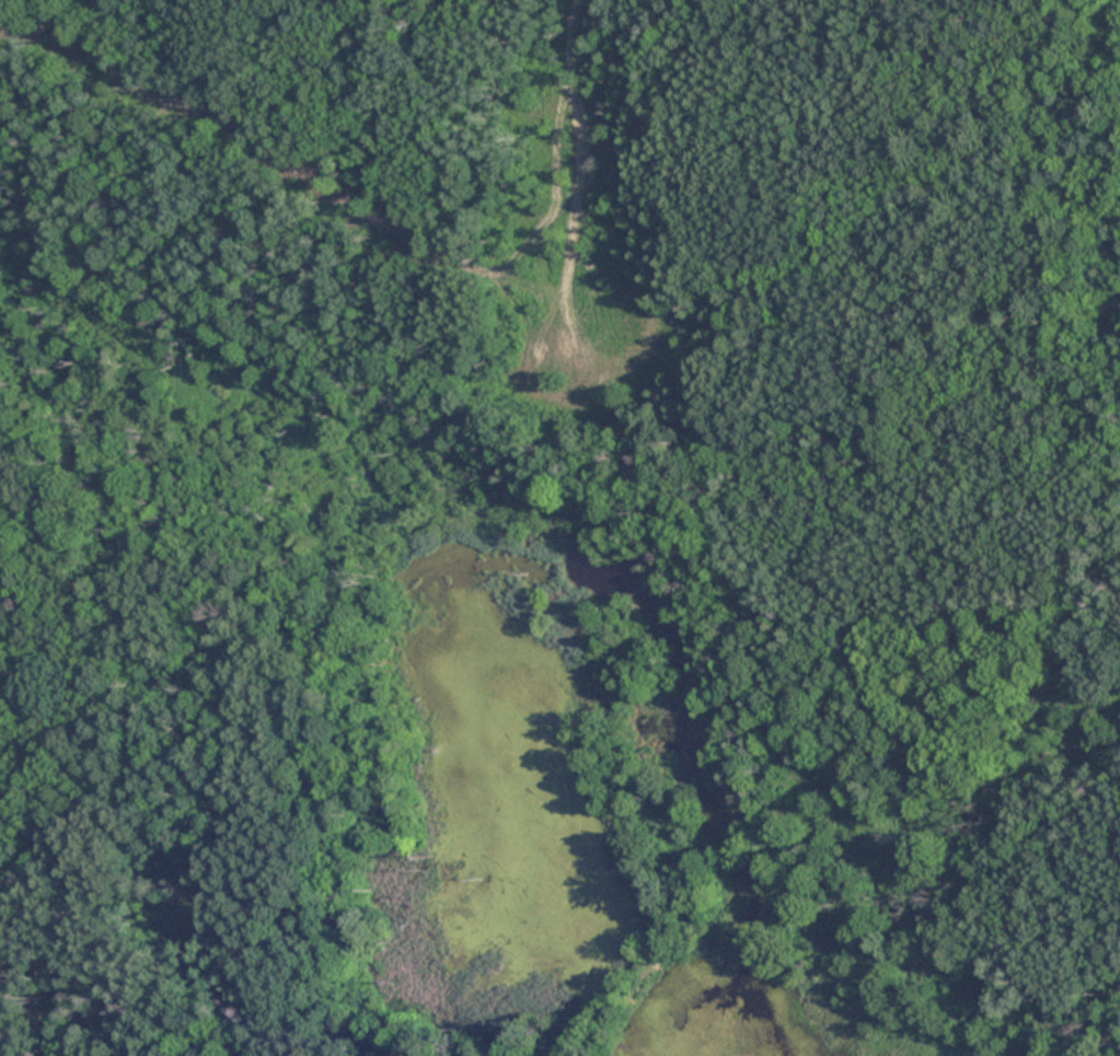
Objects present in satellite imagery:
road: (539, 408)
park: (559, 527)

